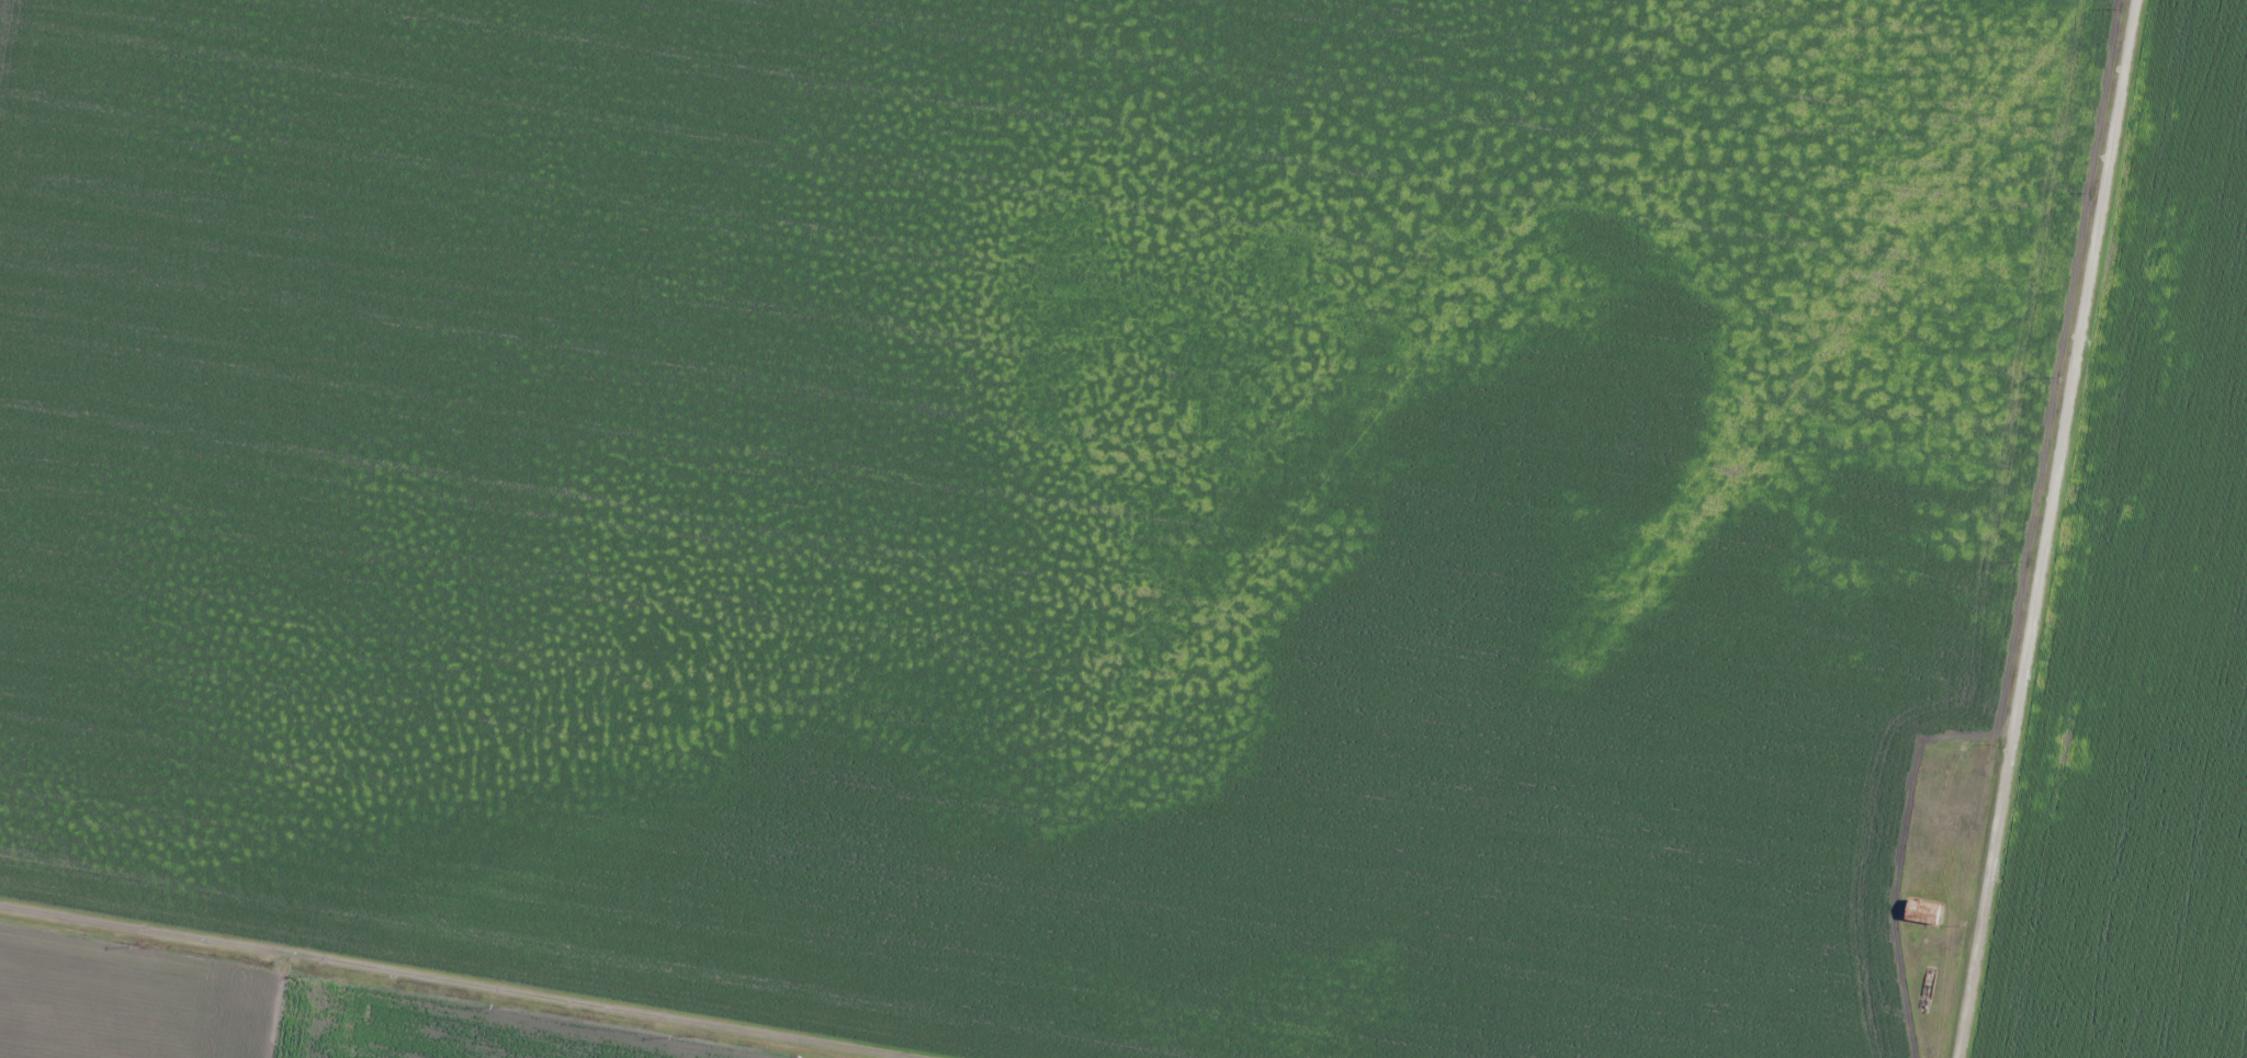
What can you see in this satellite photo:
road: (2051, 528)
road: (436, 985)

